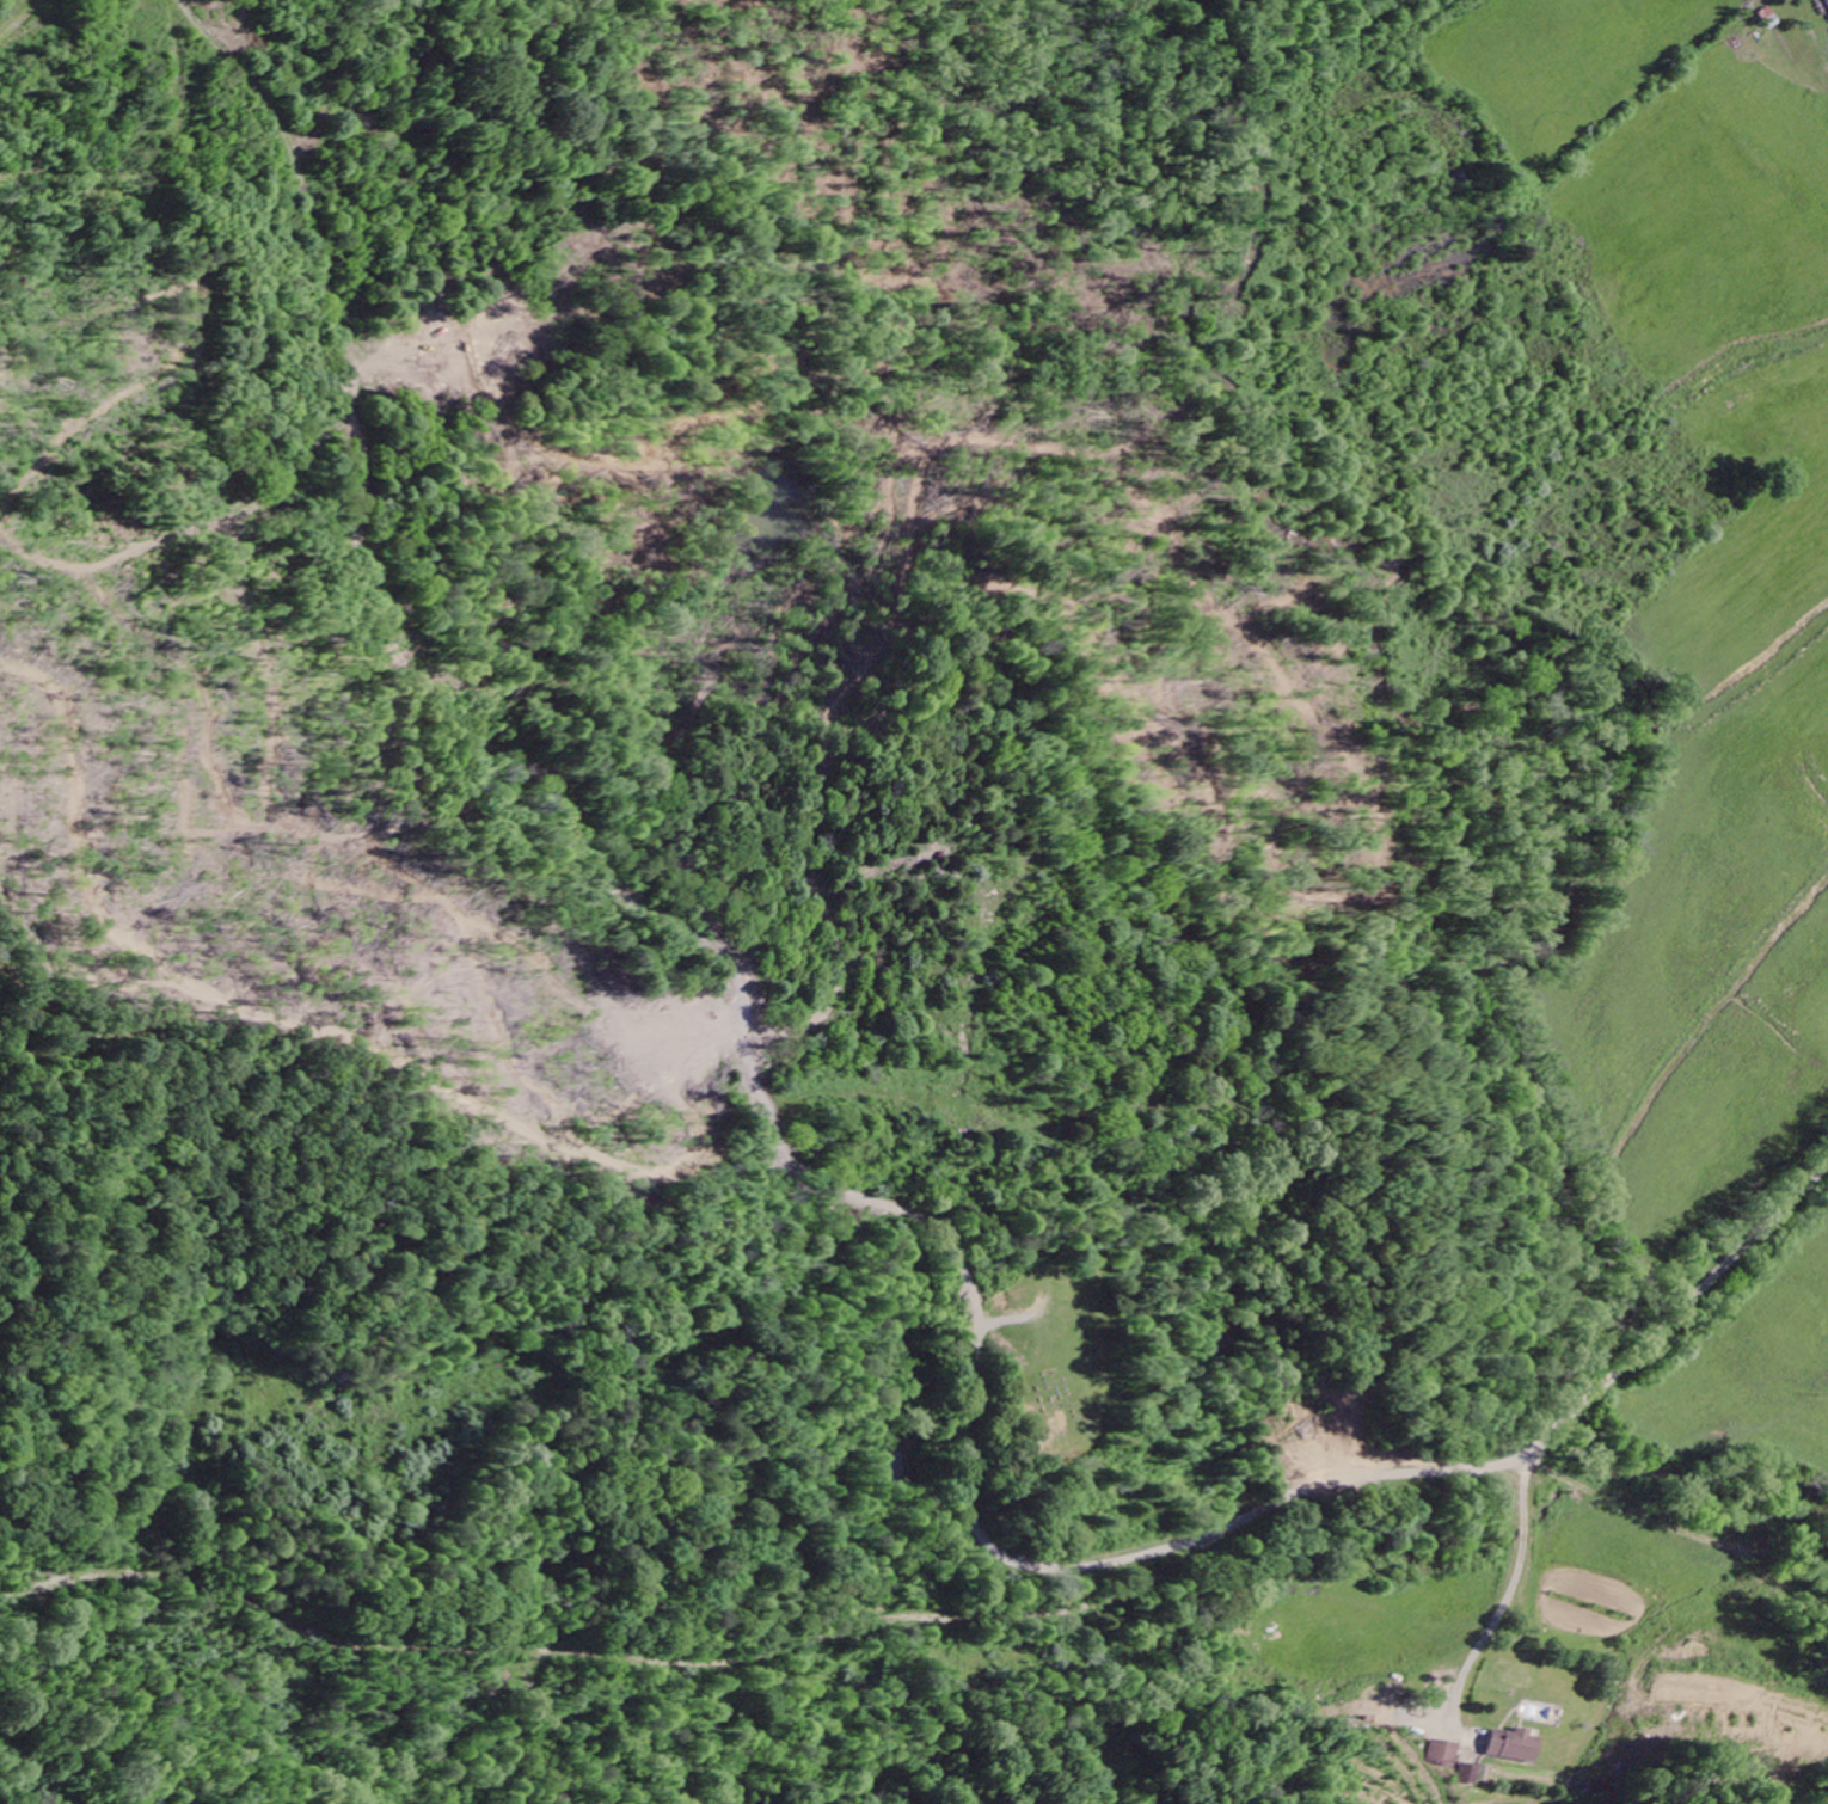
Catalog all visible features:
building: (1827, 0)
road: (1309, 1485)
building: (1514, 1745)
building: (1444, 1753)
building: (1471, 1773)

